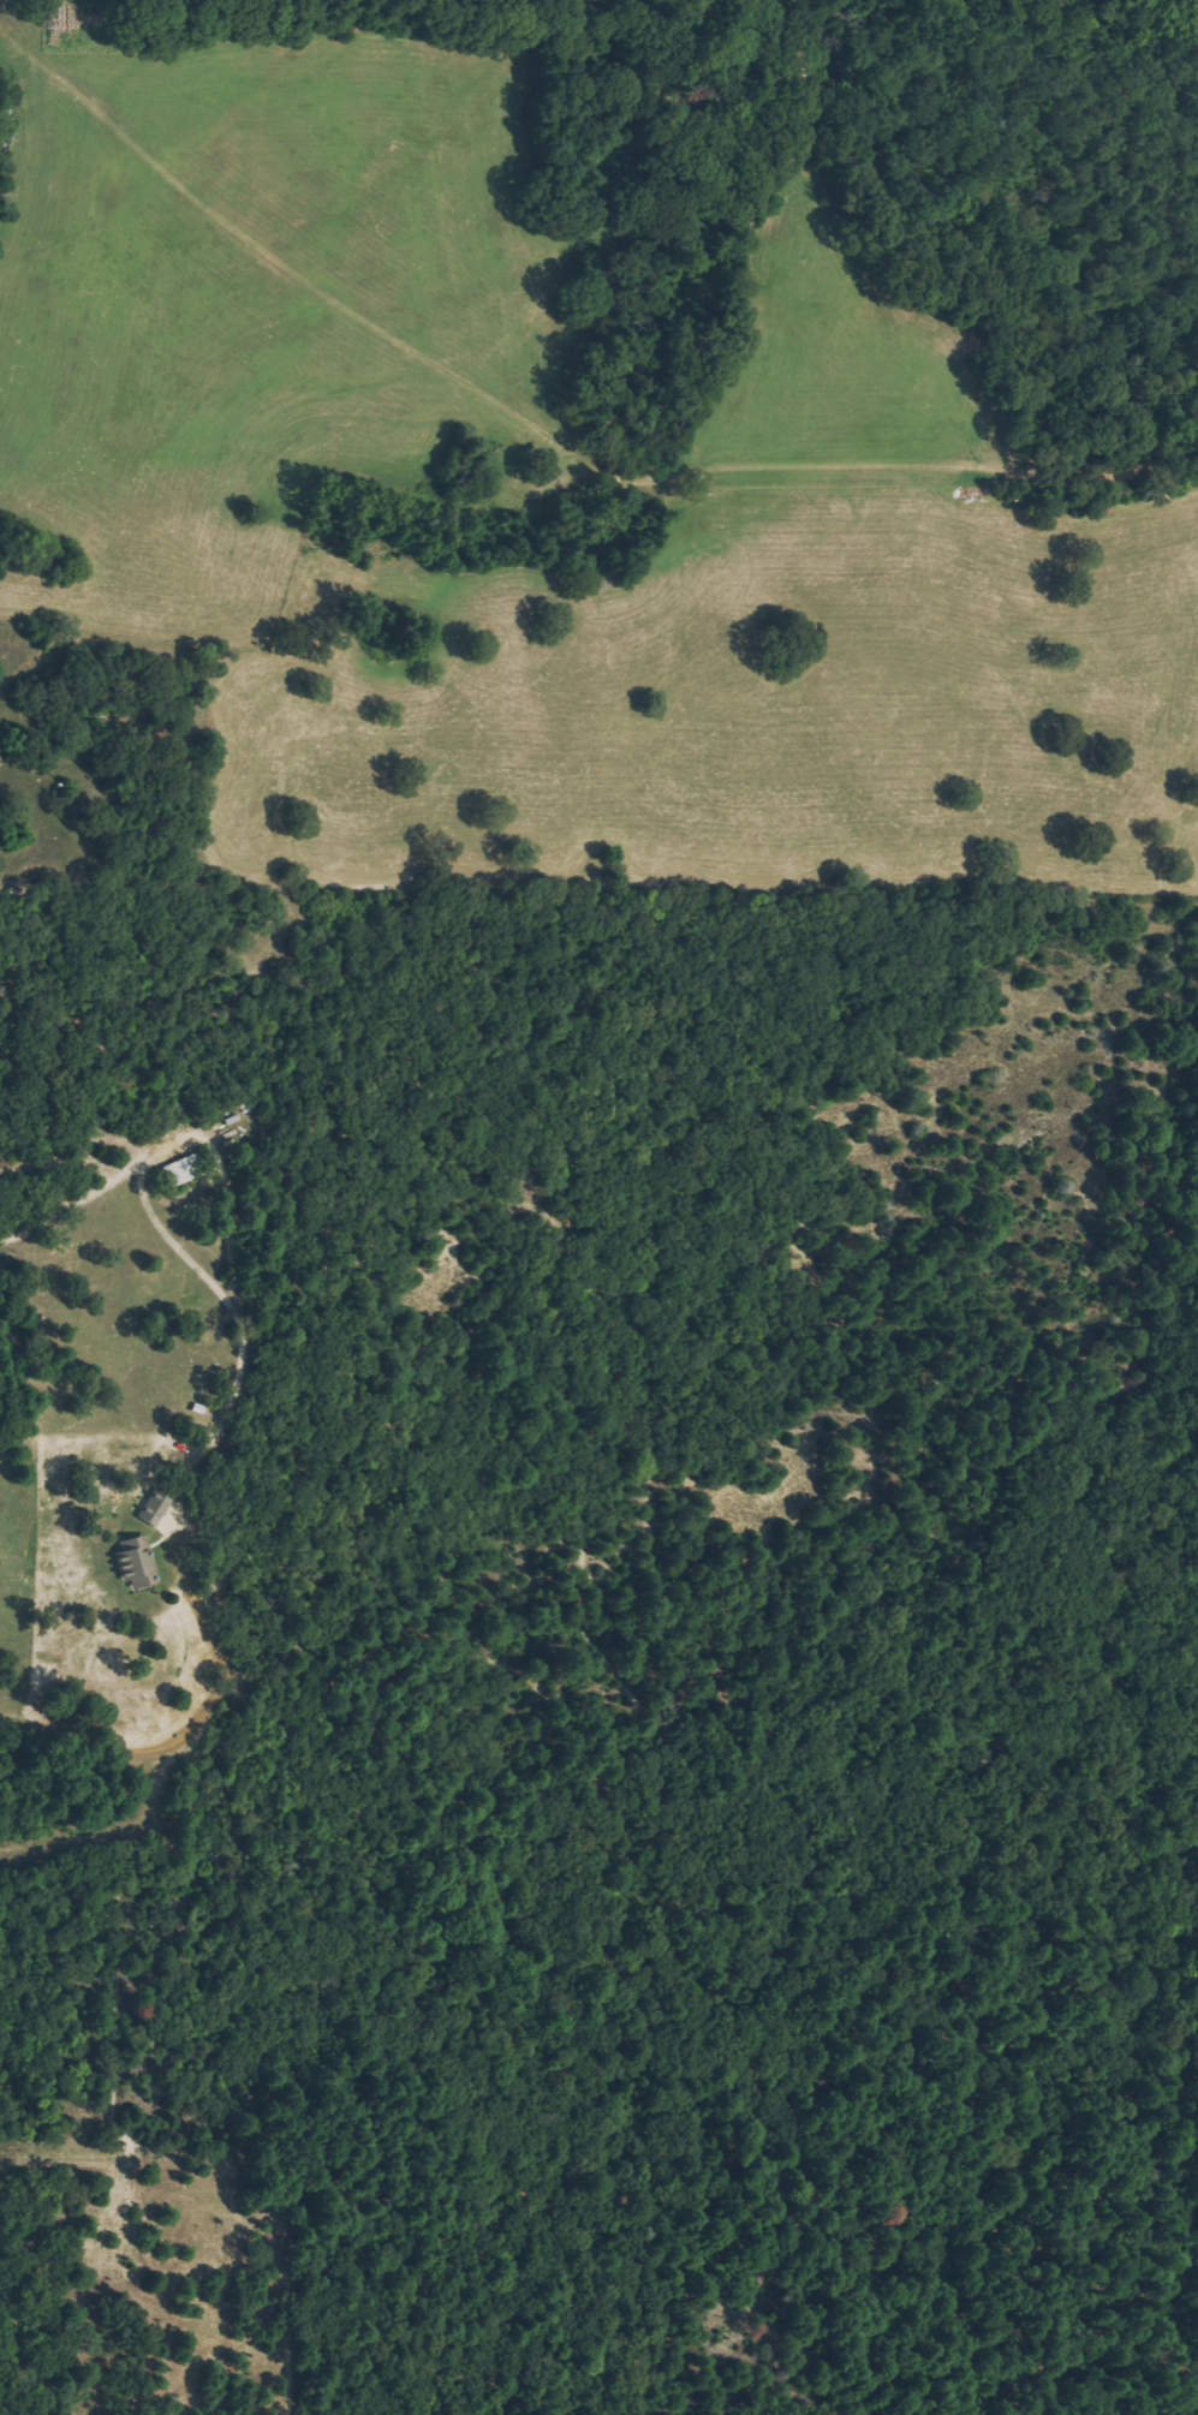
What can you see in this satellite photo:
building: (180, 1170)
building: (155, 1510)
building: (131, 1560)

